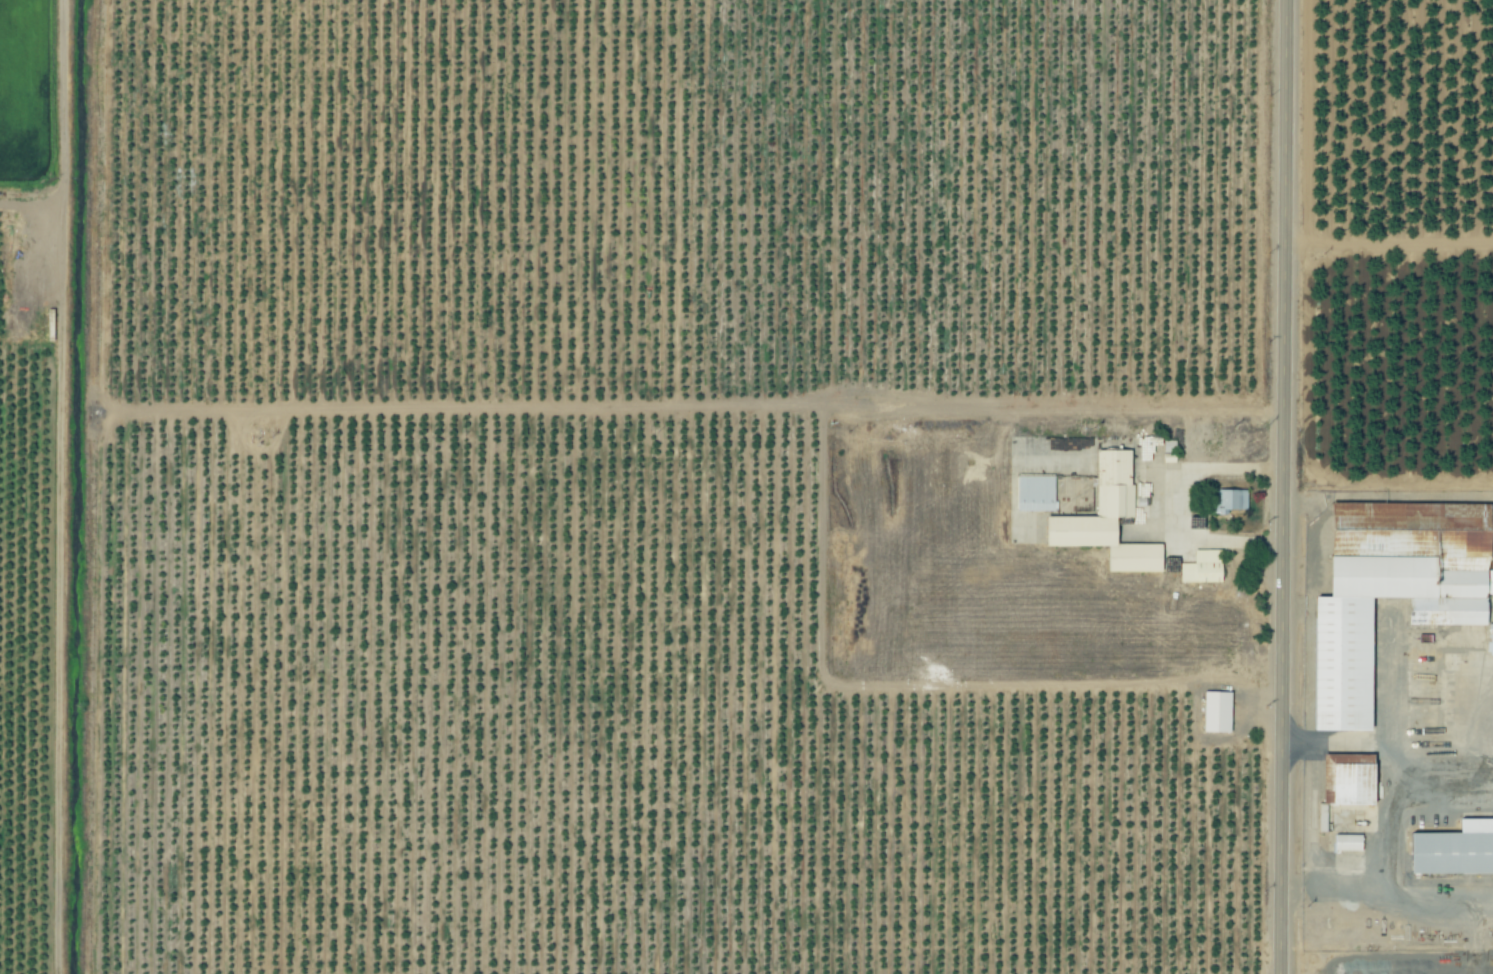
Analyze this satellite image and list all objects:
road: (1065, 413)
road: (1283, 487)
building: (1036, 494)
building: (1228, 501)
road: (1170, 508)
building: (1108, 520)
building: (1204, 568)
building: (1392, 594)
building: (1490, 641)
building: (1217, 713)
road: (1388, 742)
road: (1386, 816)
building: (1348, 844)
building: (1454, 851)
road: (1388, 893)

